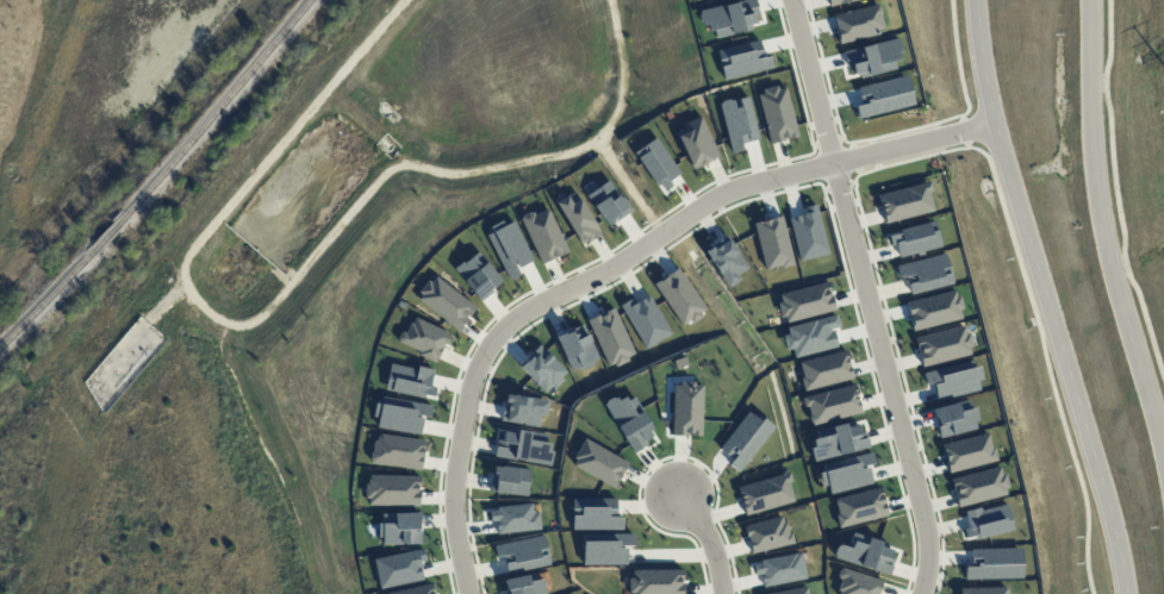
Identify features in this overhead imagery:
railway: (161, 177)
road: (1101, 229)
road: (614, 264)
road: (866, 296)
road: (1045, 296)
road: (708, 540)

